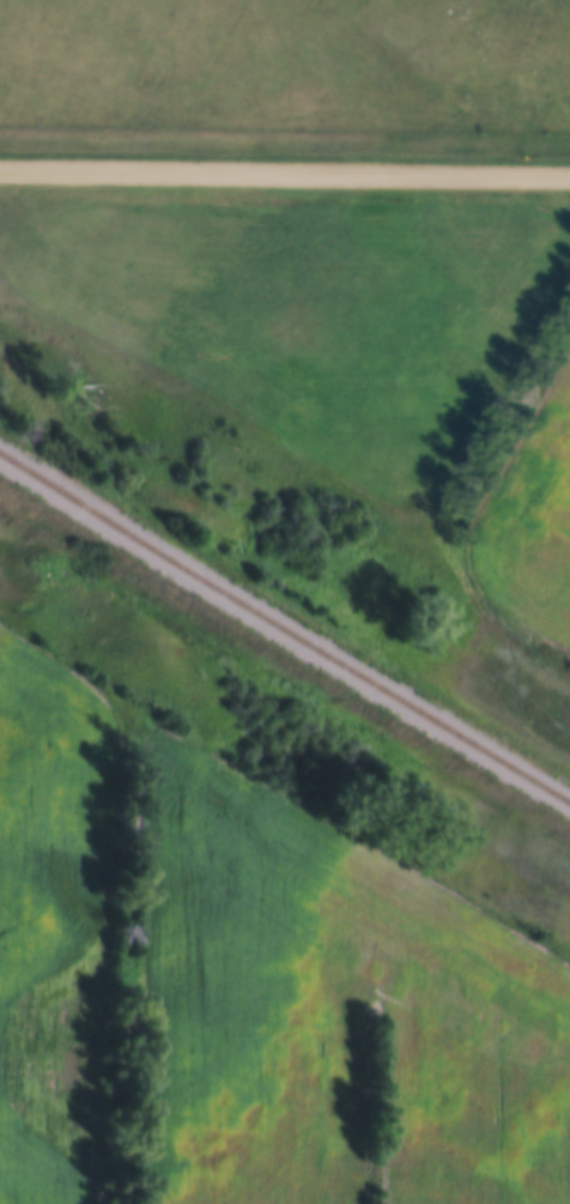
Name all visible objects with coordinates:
road: (284, 171)
railway: (285, 641)

